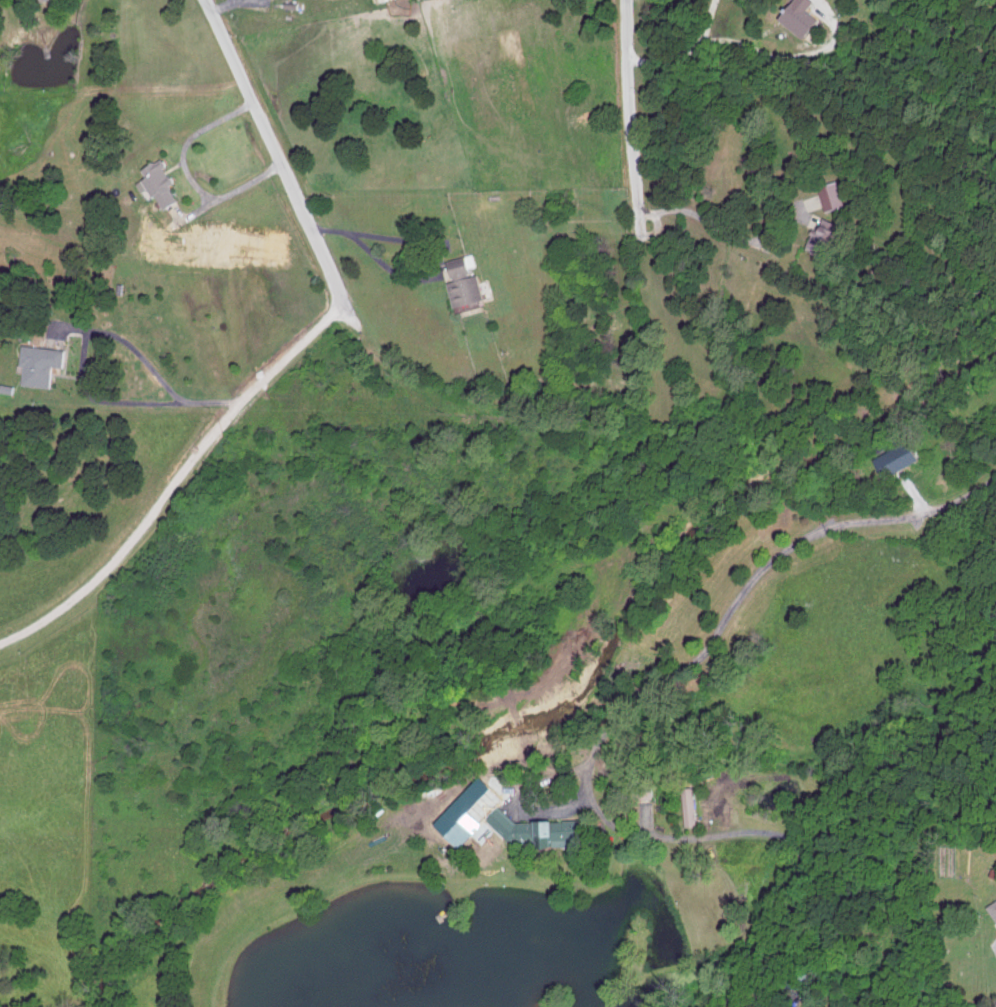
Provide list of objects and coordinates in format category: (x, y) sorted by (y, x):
building: (379, 0)
road: (223, 7)
building: (804, 17)
road: (680, 53)
road: (768, 58)
road: (627, 106)
road: (273, 148)
road: (192, 177)
building: (161, 183)
building: (835, 196)
road: (724, 232)
building: (827, 235)
road: (379, 256)
building: (467, 283)
road: (85, 340)
building: (43, 364)
road: (273, 370)
building: (900, 458)
road: (138, 541)
road: (739, 596)
building: (692, 805)
building: (540, 830)
building: (993, 906)

